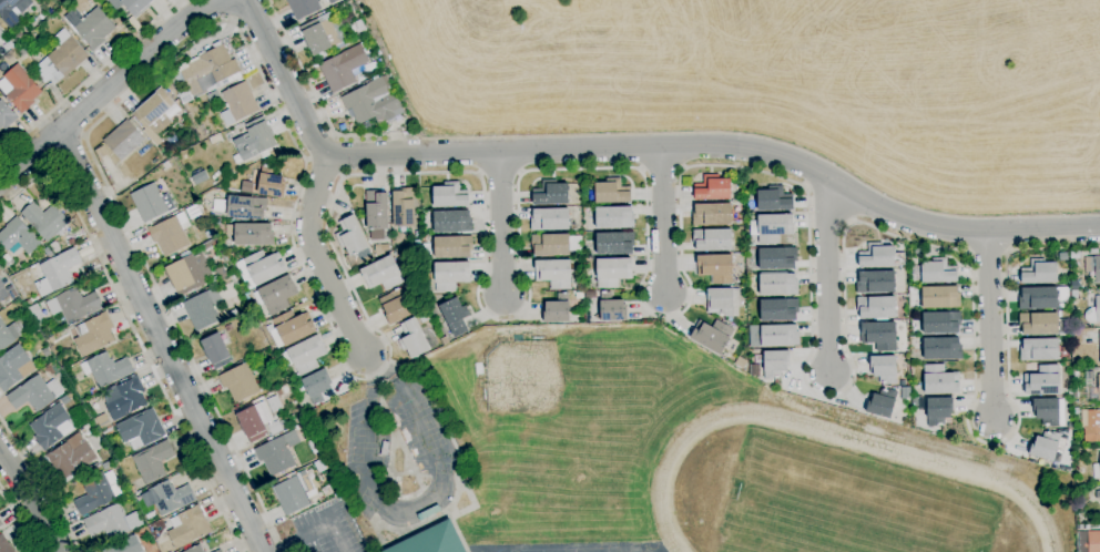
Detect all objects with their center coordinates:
building: (332, 1)
building: (130, 6)
building: (303, 8)
road: (225, 10)
building: (12, 11)
building: (345, 20)
building: (90, 27)
building: (322, 34)
building: (1, 35)
building: (17, 38)
building: (8, 47)
building: (22, 52)
building: (61, 59)
building: (343, 68)
building: (206, 71)
road: (90, 76)
road: (108, 86)
building: (19, 89)
building: (213, 98)
building: (371, 103)
building: (237, 104)
road: (317, 105)
building: (155, 112)
building: (6, 116)
road: (334, 137)
building: (215, 139)
building: (123, 140)
building: (255, 140)
road: (330, 147)
road: (634, 147)
building: (101, 153)
road: (319, 157)
road: (308, 160)
building: (165, 165)
road: (334, 165)
road: (342, 176)
building: (271, 184)
building: (246, 187)
building: (712, 188)
building: (611, 192)
building: (550, 194)
building: (450, 196)
building: (774, 200)
building: (151, 203)
building: (218, 206)
building: (246, 207)
building: (404, 208)
building: (376, 211)
building: (711, 215)
building: (613, 218)
building: (549, 219)
building: (44, 221)
road: (663, 221)
building: (451, 222)
road: (501, 224)
building: (773, 228)
building: (170, 234)
building: (210, 234)
building: (251, 235)
road: (519, 235)
building: (18, 237)
building: (350, 237)
building: (712, 239)
building: (614, 243)
building: (550, 245)
building: (54, 247)
building: (452, 247)
building: (380, 249)
building: (917, 251)
building: (47, 252)
building: (1093, 252)
building: (876, 256)
building: (777, 258)
road: (318, 259)
building: (1093, 267)
building: (259, 268)
building: (715, 268)
building: (612, 272)
building: (934, 272)
building: (57, 273)
building: (189, 273)
building: (1039, 273)
building: (381, 274)
building: (553, 274)
building: (450, 276)
road: (827, 277)
building: (875, 282)
building: (754, 284)
building: (777, 284)
building: (411, 285)
building: (1099, 292)
building: (2, 293)
building: (1081, 294)
building: (276, 295)
building: (590, 295)
building: (939, 297)
building: (1037, 298)
building: (723, 301)
building: (27, 304)
building: (74, 305)
building: (395, 307)
building: (876, 307)
building: (611, 308)
building: (203, 309)
building: (557, 309)
building: (778, 309)
building: (1093, 311)
building: (1065, 314)
building: (35, 315)
building: (232, 315)
building: (455, 316)
building: (422, 318)
building: (940, 323)
building: (1039, 324)
road: (131, 327)
building: (293, 327)
road: (991, 327)
building: (10, 334)
building: (93, 335)
building: (712, 336)
building: (780, 336)
building: (879, 336)
building: (412, 339)
building: (50, 340)
building: (445, 340)
road: (160, 341)
building: (1099, 341)
building: (941, 349)
building: (215, 350)
building: (1039, 350)
building: (47, 351)
building: (305, 355)
building: (741, 362)
building: (775, 364)
building: (11, 367)
building: (106, 369)
building: (884, 369)
building: (939, 380)
building: (1042, 381)
building: (240, 382)
building: (315, 386)
building: (1096, 391)
building: (1070, 392)
building: (34, 393)
building: (125, 399)
building: (277, 399)
building: (915, 402)
park: (552, 403)
building: (882, 403)
park: (409, 408)
building: (938, 411)
building: (1047, 412)
building: (256, 422)
park: (418, 426)
building: (1071, 426)
building: (51, 427)
building: (1092, 427)
building: (141, 428)
building: (106, 431)
park: (366, 436)
building: (312, 444)
park: (427, 444)
building: (1045, 447)
building: (277, 453)
building: (71, 456)
park: (365, 456)
building: (1099, 457)
building: (152, 462)
building: (105, 466)
building: (1097, 471)
park: (439, 479)
track: (985, 480)
road: (41, 483)
building: (96, 492)
building: (1097, 494)
building: (291, 495)
building: (170, 498)
road: (30, 501)
park: (376, 502)
park: (845, 504)
road: (415, 508)
park: (417, 509)
road: (19, 519)
building: (108, 522)
building: (1, 523)
building: (187, 528)
road: (314, 529)
building: (432, 541)
building: (1093, 541)
road: (310, 542)
building: (4, 545)
building: (126, 545)
building: (195, 549)
park: (547, 550)
park: (608, 550)
building: (220, 551)

